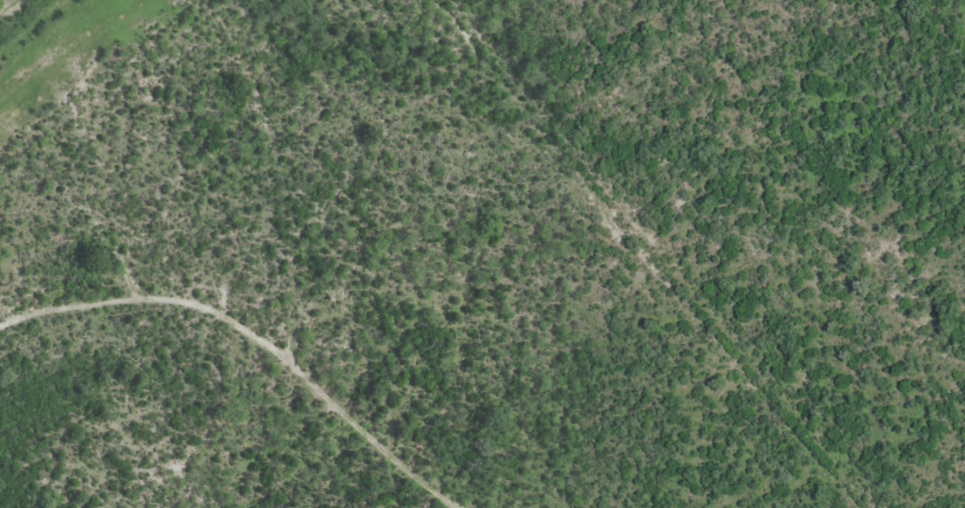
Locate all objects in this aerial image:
road: (290, 321)

